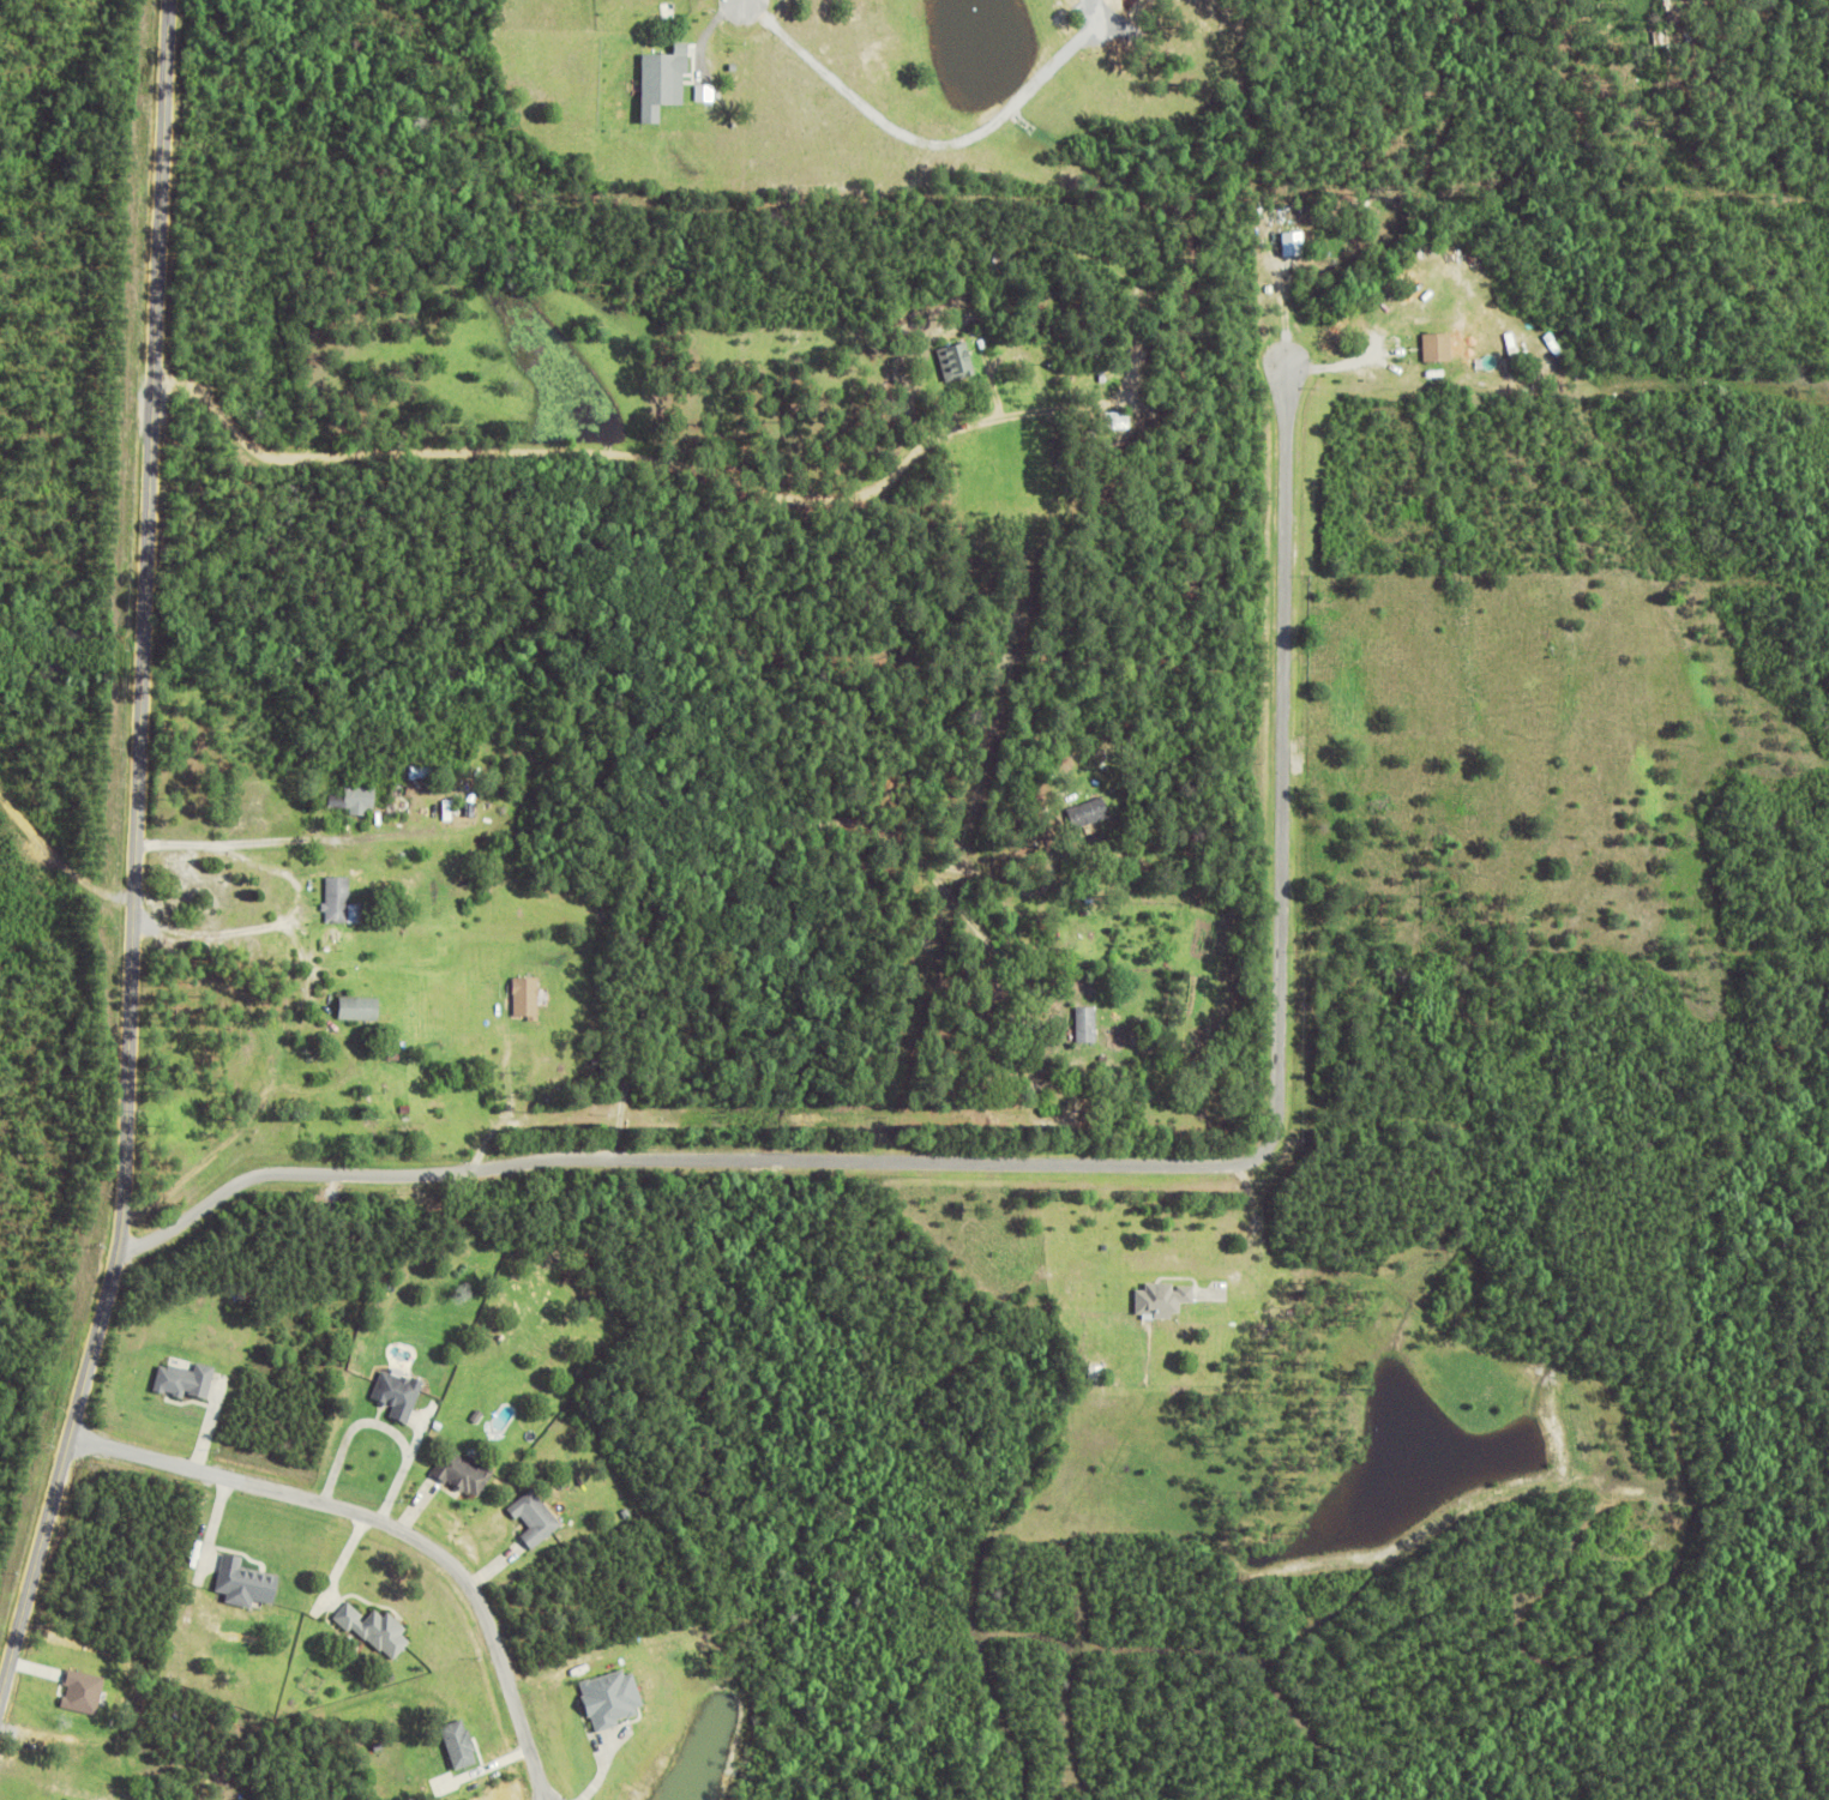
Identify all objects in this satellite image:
building: (656, 80)
building: (1288, 242)
building: (1015, 297)
building: (1432, 347)
building: (956, 360)
road: (1341, 362)
building: (1005, 372)
building: (1108, 419)
building: (422, 771)
building: (1165, 779)
building: (356, 800)
building: (471, 809)
building: (449, 811)
building: (1089, 812)
building: (525, 818)
building: (456, 838)
building: (1030, 847)
road: (59, 853)
building: (399, 854)
road: (138, 865)
building: (341, 902)
building: (521, 997)
building: (360, 1009)
building: (1087, 1024)
building: (317, 1043)
building: (1105, 1058)
building: (335, 1059)
building: (393, 1062)
building: (1131, 1079)
building: (407, 1109)
building: (383, 1136)
road: (227, 1138)
road: (1076, 1162)
building: (1156, 1298)
building: (188, 1379)
building: (402, 1391)
building: (465, 1470)
building: (537, 1516)
road: (390, 1524)
building: (251, 1581)
building: (379, 1627)
building: (85, 1690)
building: (615, 1696)
building: (464, 1744)

